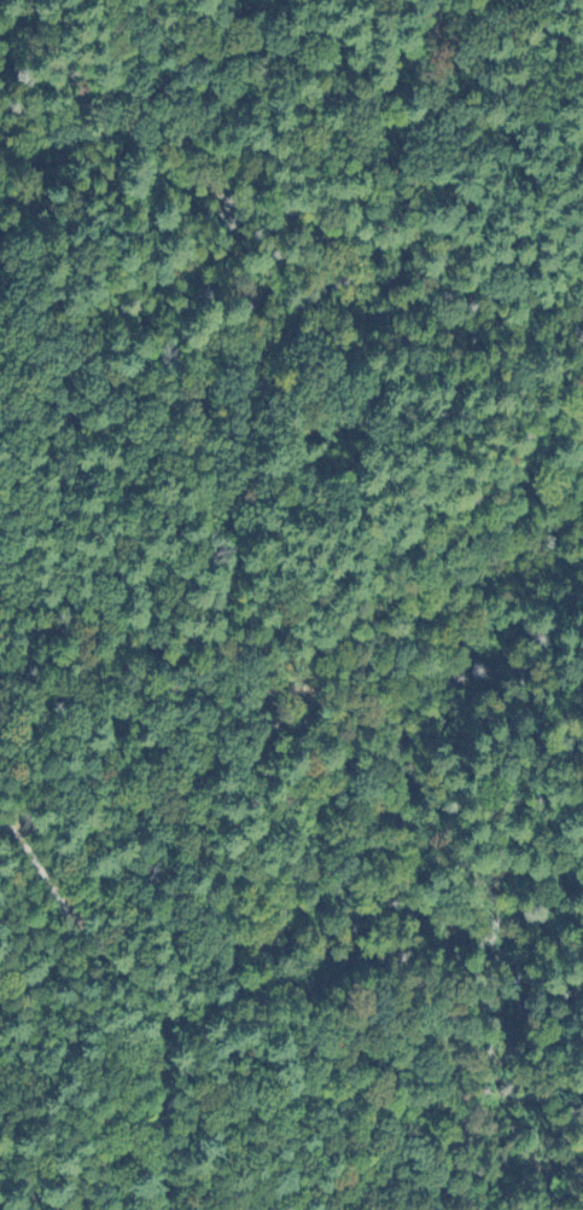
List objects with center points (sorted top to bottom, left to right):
road: (142, 994)

